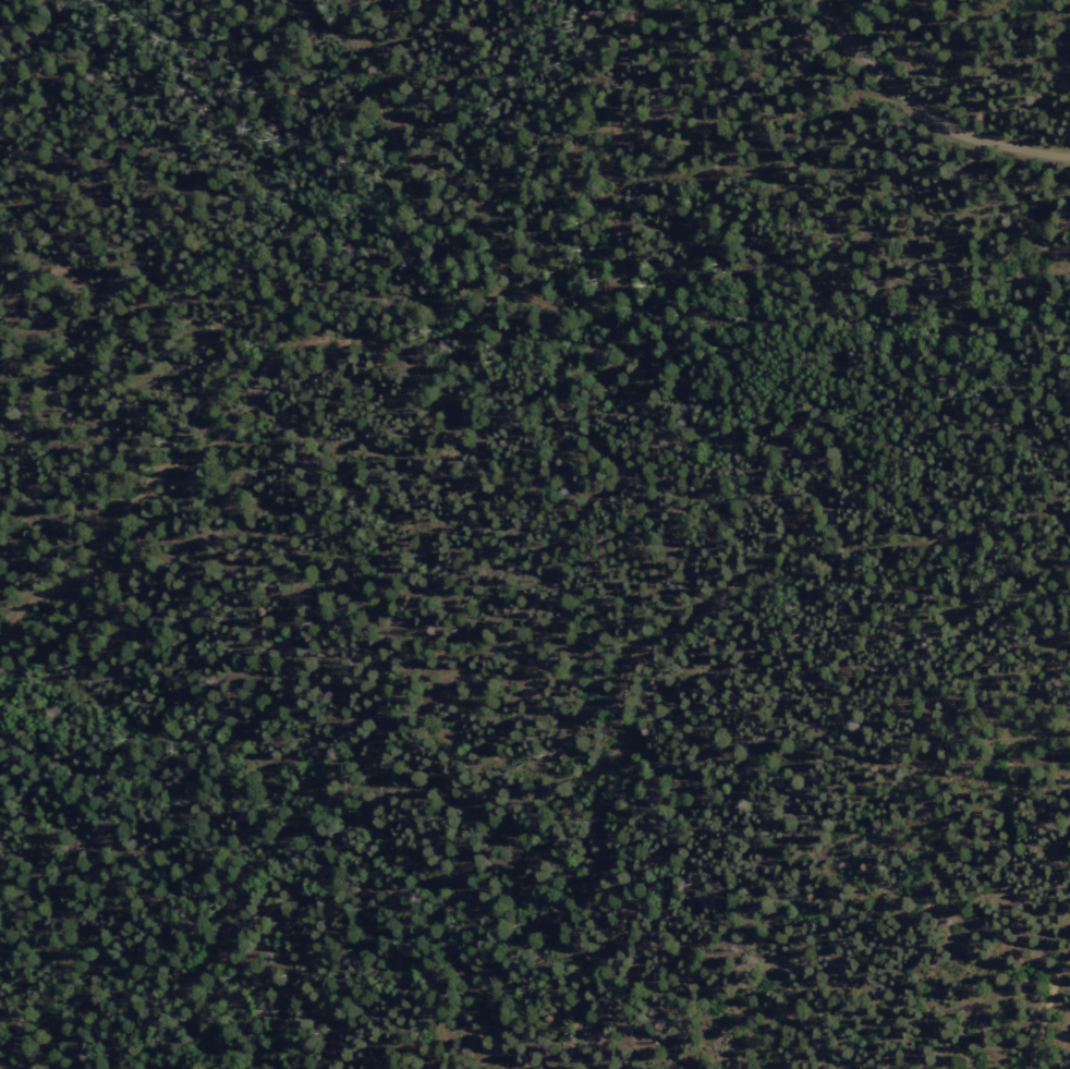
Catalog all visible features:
road: (936, 101)
road: (1067, 163)

